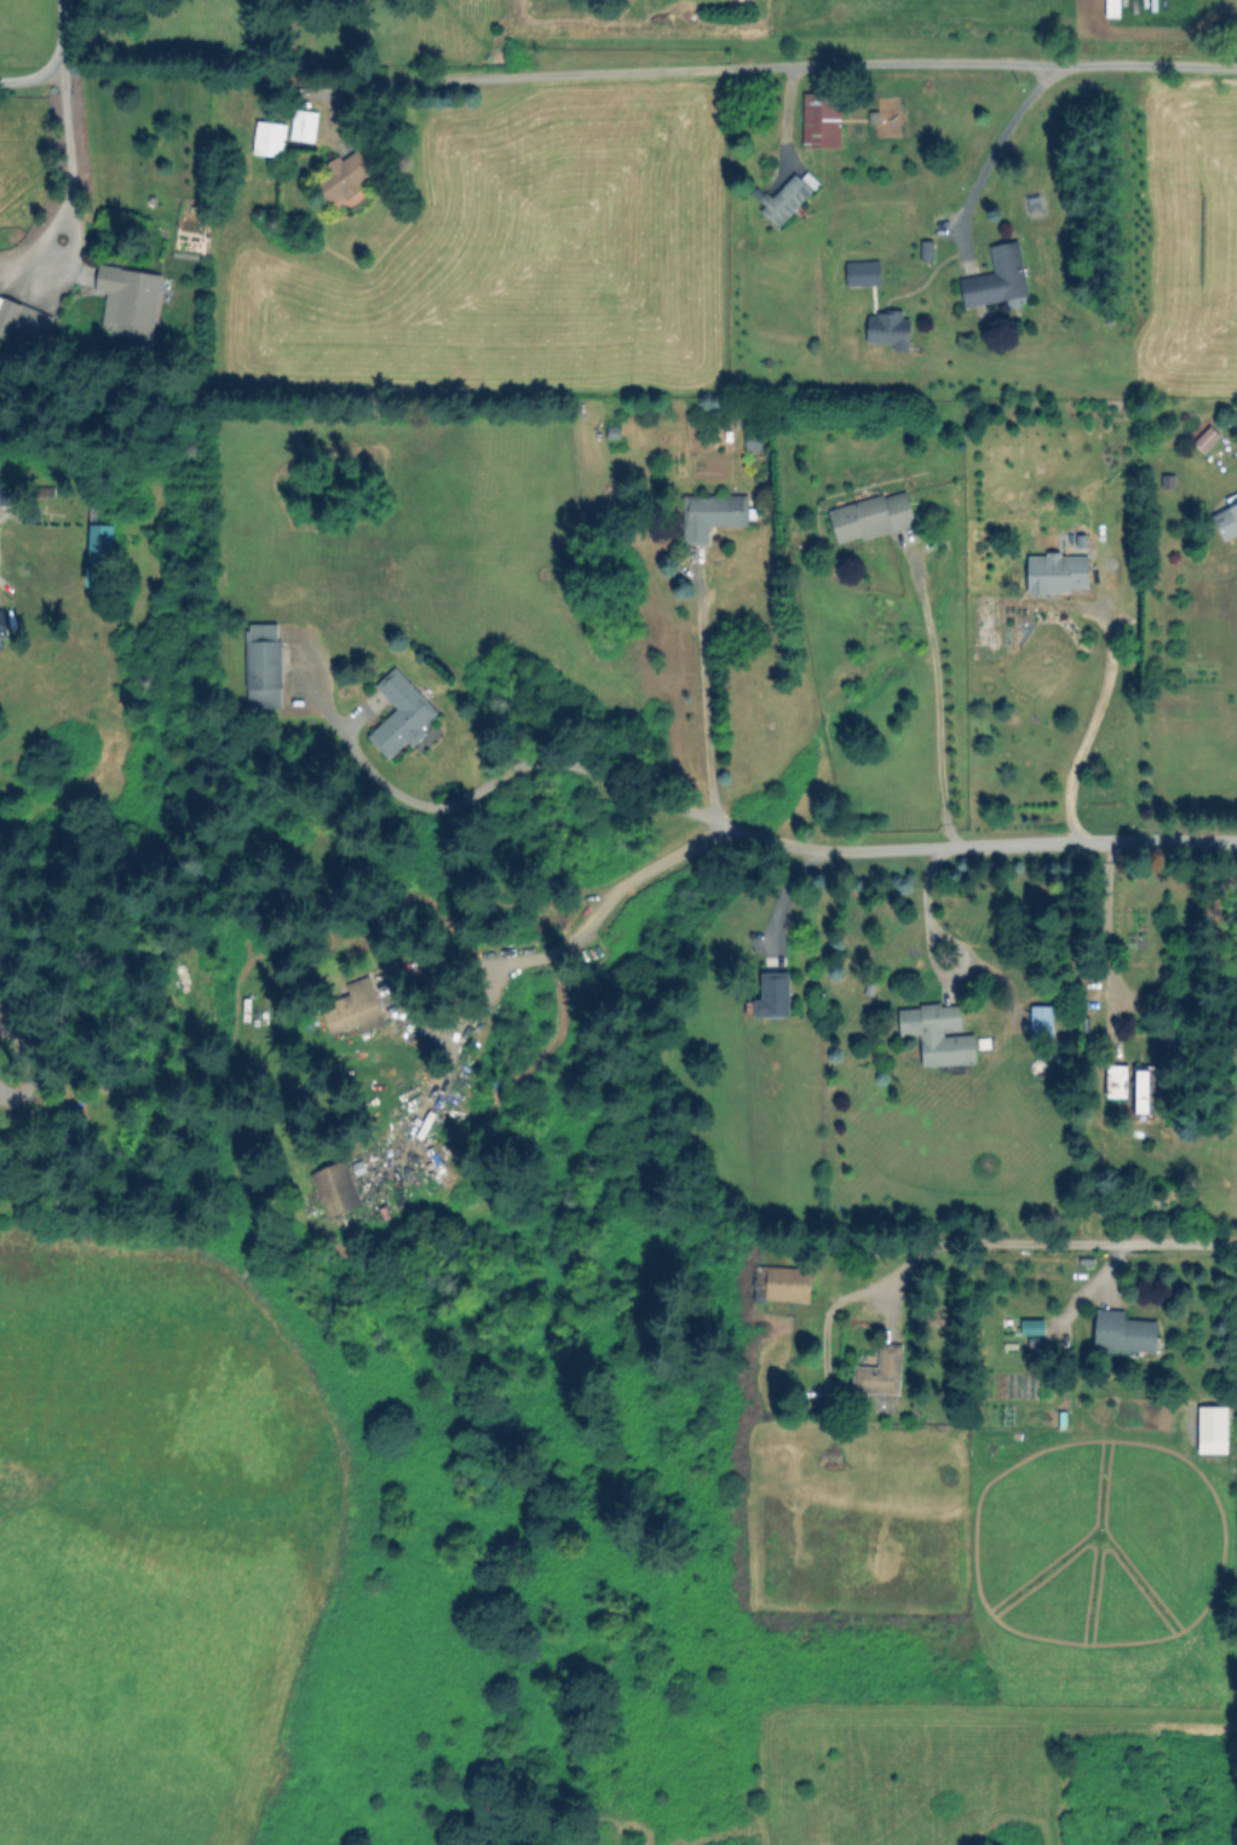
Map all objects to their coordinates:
road: (57, 23)
road: (798, 67)
road: (36, 75)
building: (819, 119)
building: (301, 125)
building: (267, 137)
road: (997, 143)
road: (68, 167)
building: (341, 179)
building: (786, 196)
building: (861, 272)
building: (995, 277)
building: (127, 300)
building: (22, 318)
building: (886, 329)
building: (1204, 437)
building: (6, 495)
building: (709, 513)
building: (869, 516)
building: (1226, 517)
building: (97, 553)
building: (1054, 571)
building: (1, 625)
building: (261, 665)
road: (936, 700)
road: (703, 703)
building: (398, 713)
road: (1089, 725)
road: (753, 838)
road: (924, 914)
road: (575, 930)
road: (1106, 939)
building: (771, 994)
building: (353, 1008)
building: (1038, 1019)
building: (936, 1033)
building: (1115, 1080)
building: (1140, 1090)
building: (333, 1188)
road: (966, 1243)
road: (1158, 1245)
building: (782, 1282)
building: (1030, 1326)
building: (1122, 1332)
building: (879, 1372)
building: (1210, 1429)

